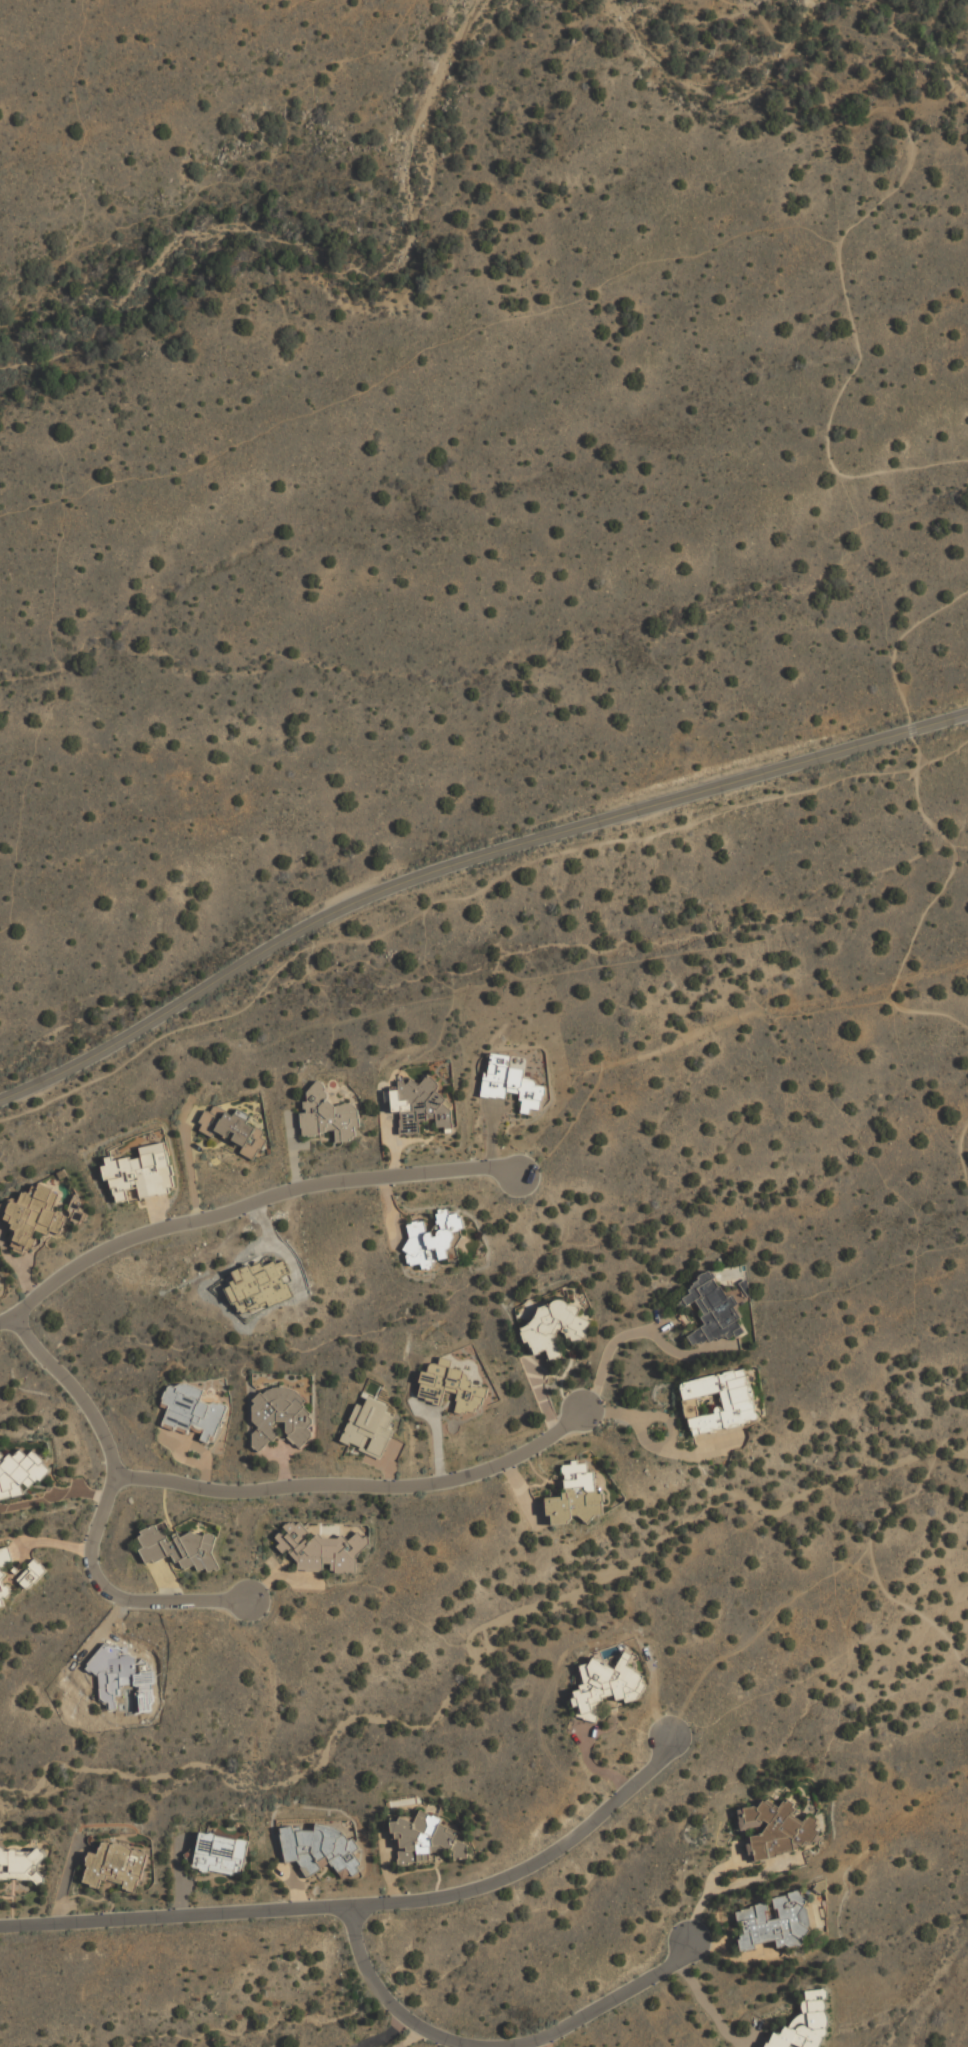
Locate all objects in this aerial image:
road: (860, 221)
road: (929, 825)
road: (464, 860)
road: (438, 899)
building: (510, 1084)
building: (418, 1105)
building: (327, 1116)
building: (232, 1130)
road: (958, 1159)
building: (140, 1172)
road: (244, 1206)
building: (75, 1214)
building: (33, 1215)
building: (433, 1239)
building: (711, 1310)
building: (553, 1327)
building: (449, 1387)
building: (718, 1401)
building: (190, 1411)
building: (279, 1416)
building: (368, 1427)
building: (19, 1472)
road: (355, 1490)
building: (575, 1496)
road: (99, 1515)
building: (178, 1547)
building: (320, 1550)
road: (870, 1550)
building: (30, 1575)
building: (1, 1576)
building: (605, 1685)
building: (775, 1829)
building: (424, 1838)
building: (320, 1849)
building: (220, 1854)
building: (21, 1865)
building: (114, 1866)
road: (706, 1892)
road: (364, 1905)
building: (774, 1922)
road: (730, 1957)
road: (713, 2013)
building: (804, 2024)
road: (497, 2046)

